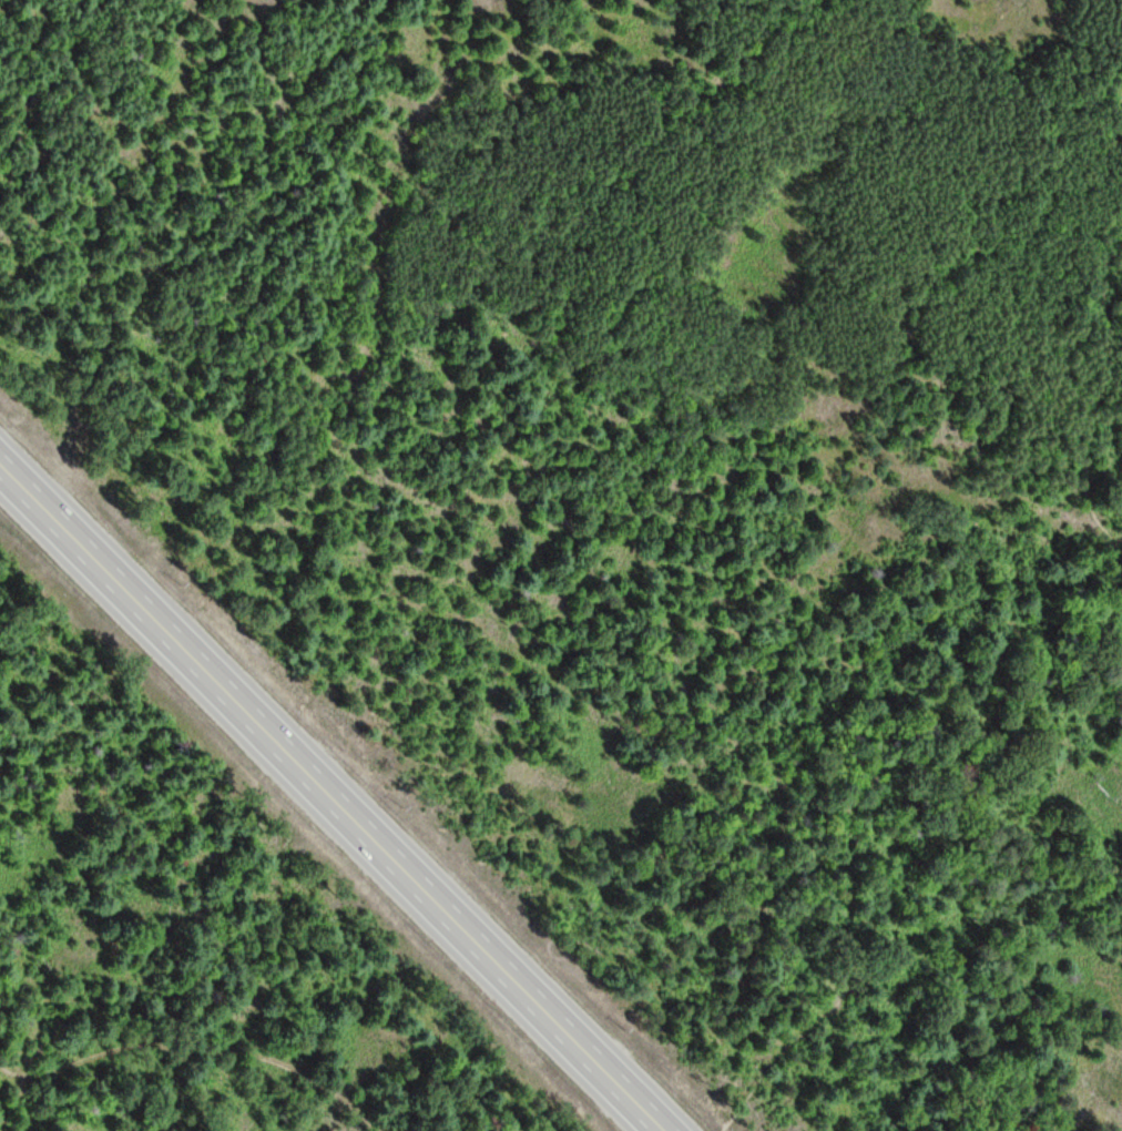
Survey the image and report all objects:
road: (113, 581)
road: (447, 913)
building: (601, 1033)
road: (197, 1047)

